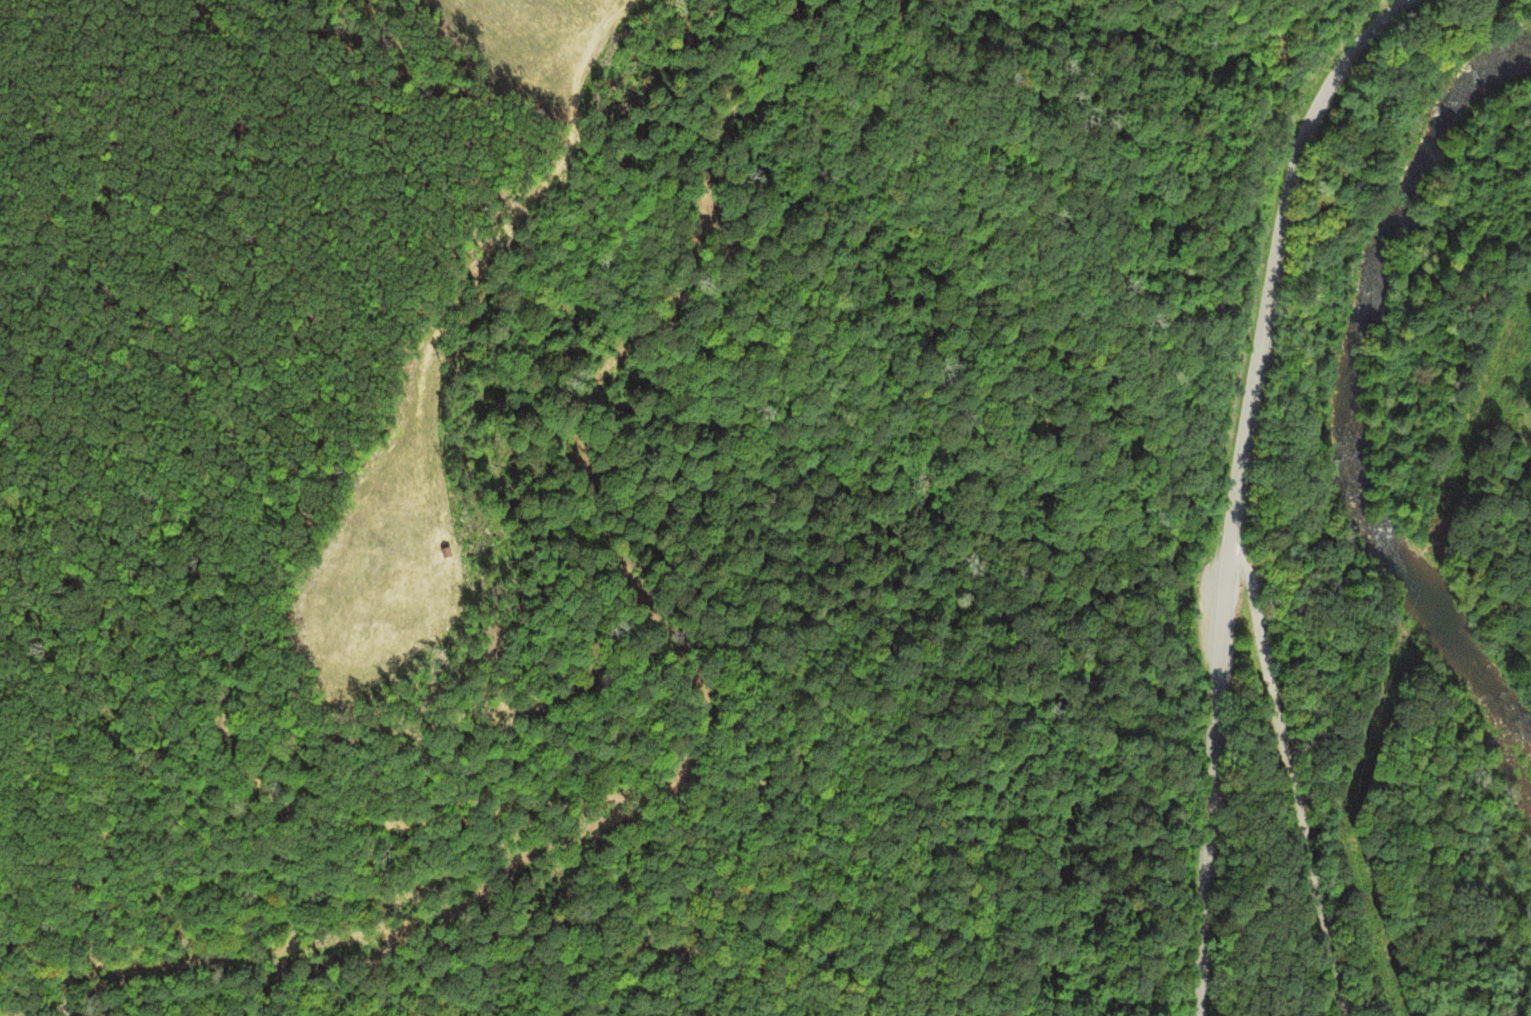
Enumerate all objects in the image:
road: (1529, 483)
road: (1240, 490)
road: (1305, 774)

